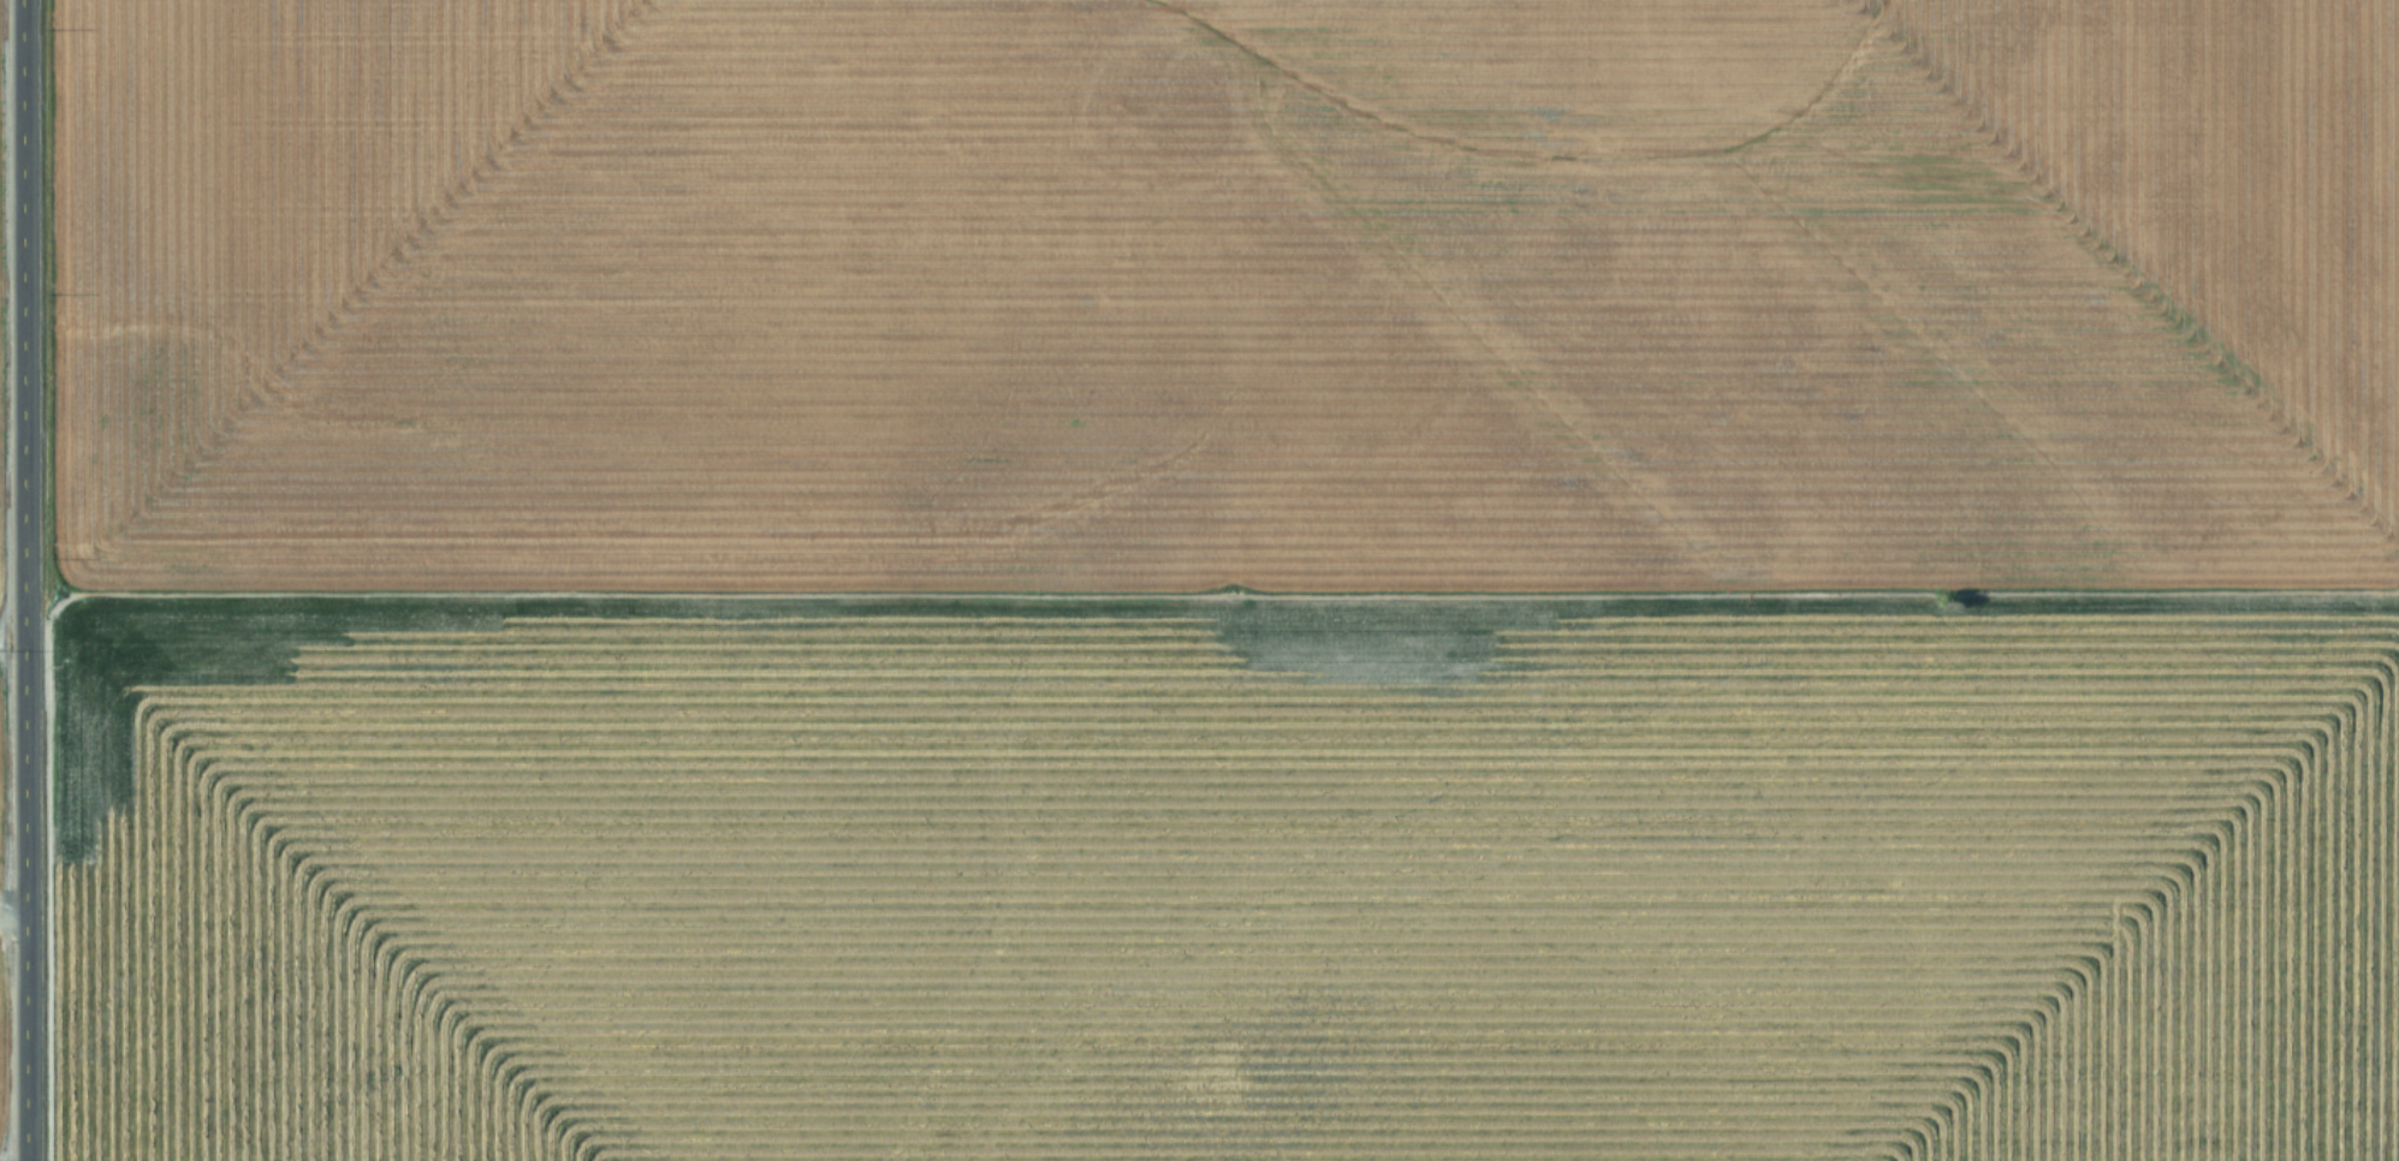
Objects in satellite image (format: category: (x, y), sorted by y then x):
road: (17, 579)
crop: (1199, 580)

